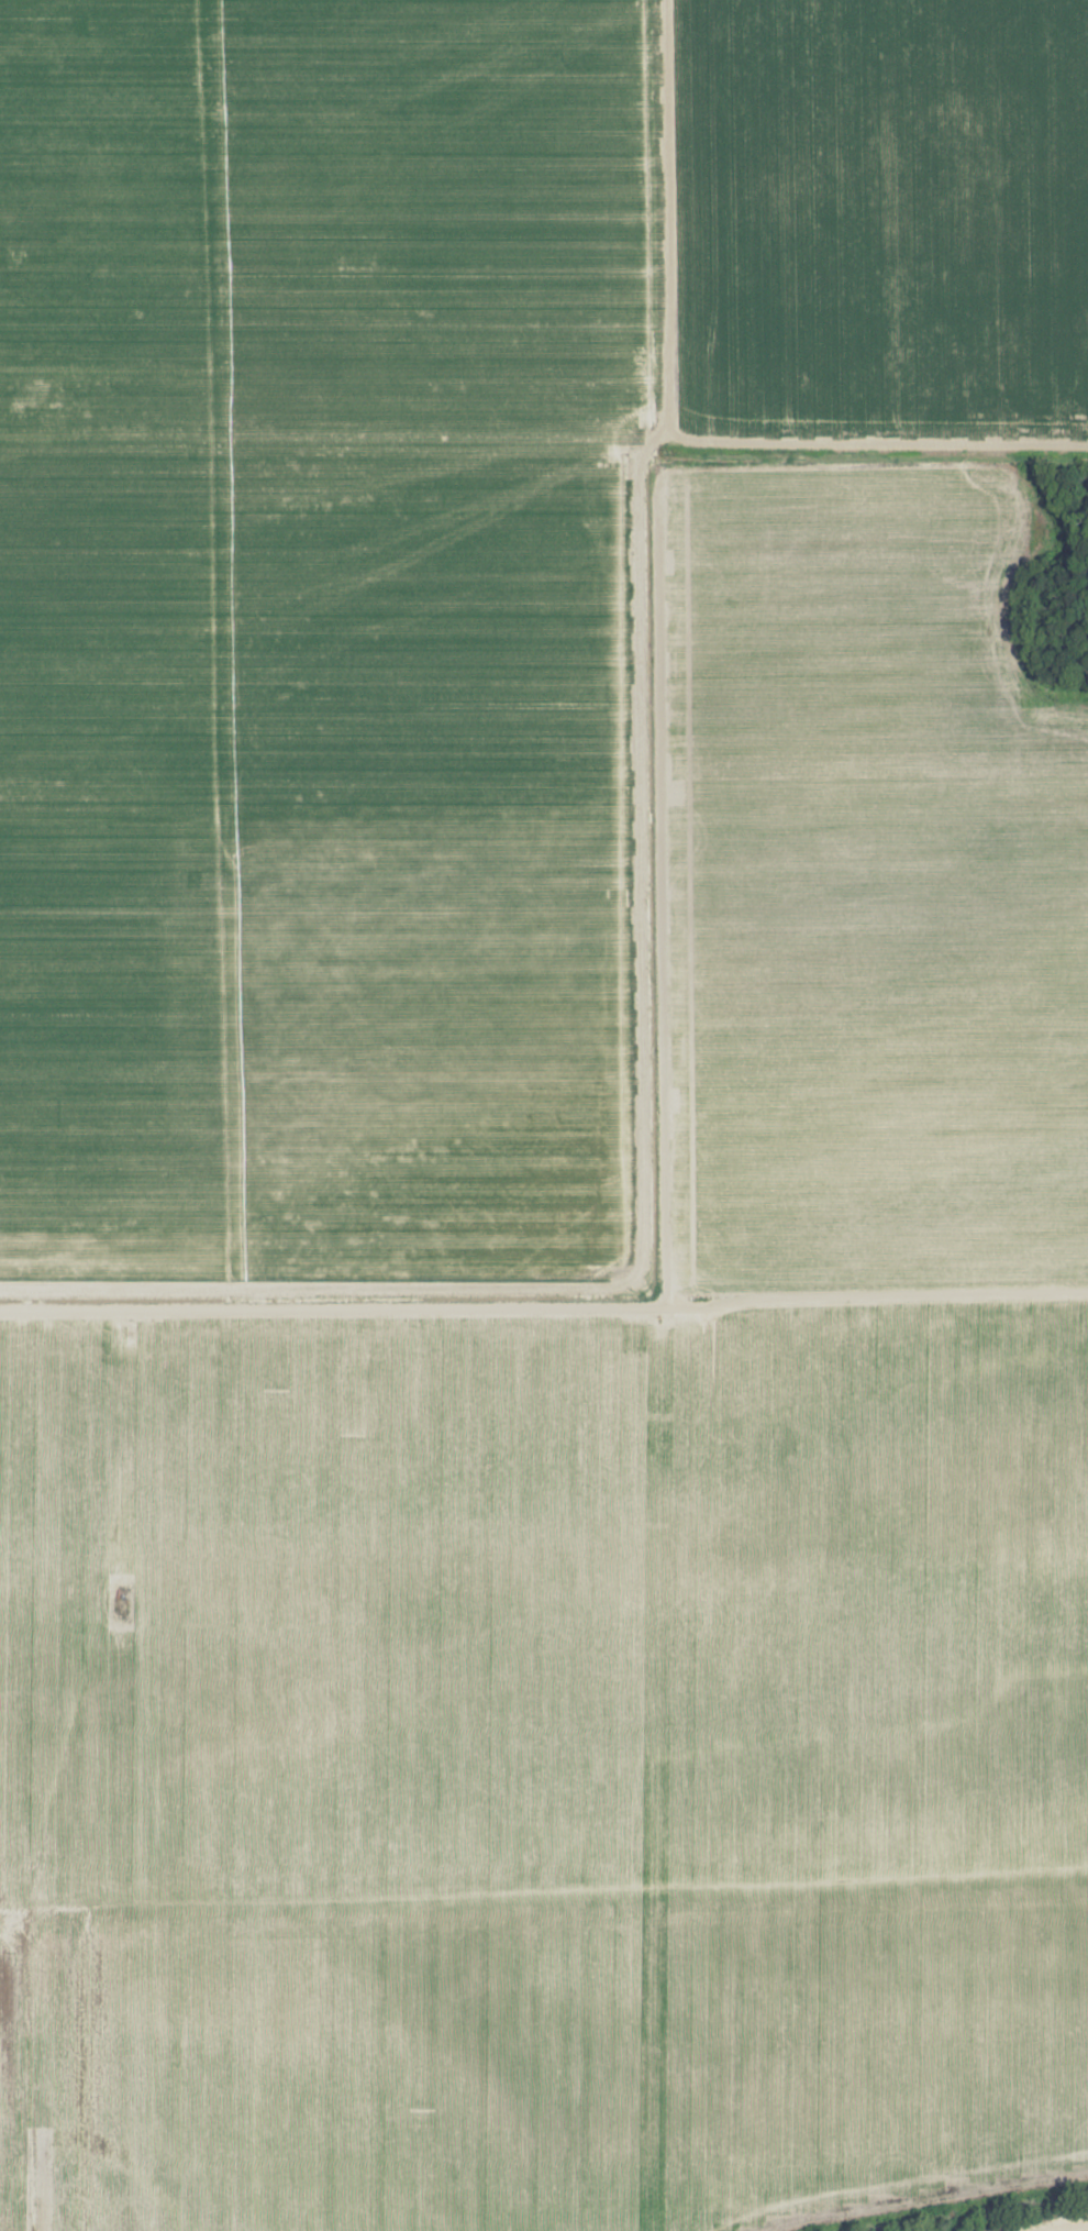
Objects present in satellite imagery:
road: (543, 449)
road: (543, 1312)
road: (109, 1456)

